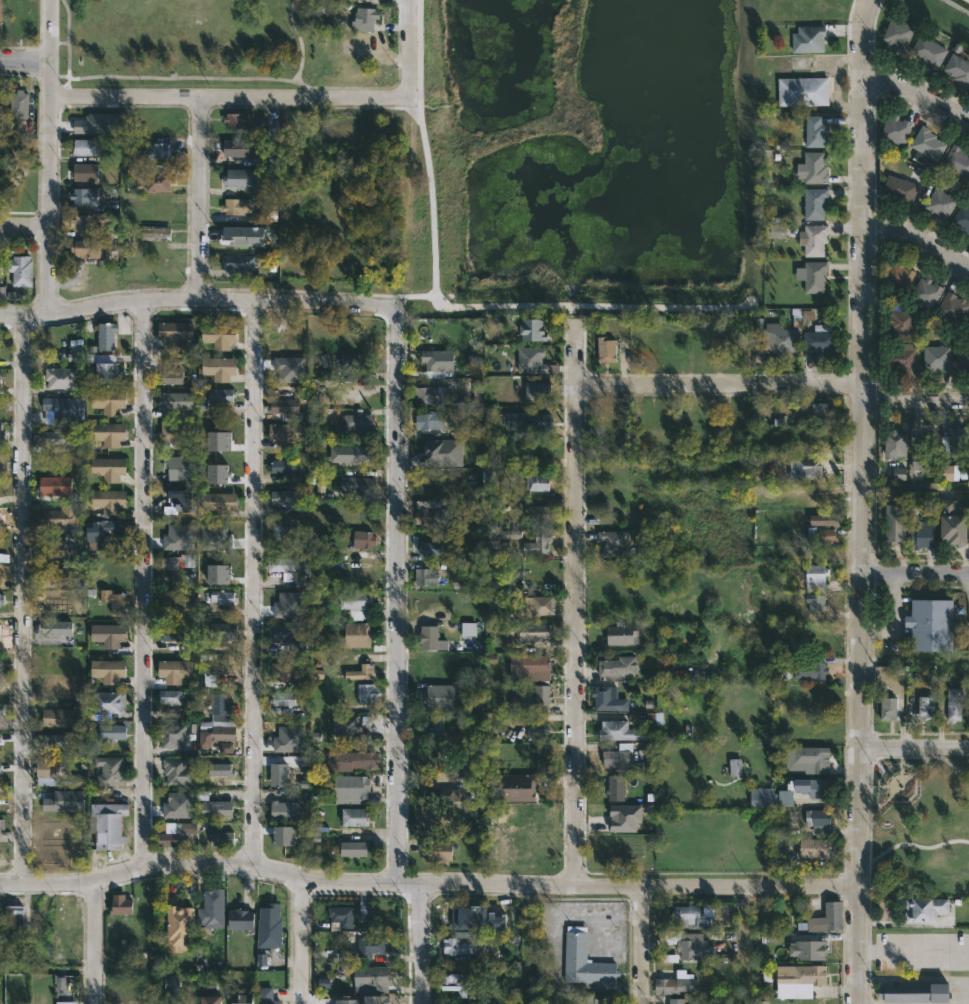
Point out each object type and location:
building: (0, 16)
building: (17, 18)
building: (365, 18)
building: (899, 33)
building: (809, 38)
park: (187, 45)
road: (409, 48)
building: (930, 51)
road: (26, 60)
building: (959, 69)
building: (803, 91)
road: (230, 96)
road: (919, 97)
building: (19, 104)
building: (1, 110)
building: (89, 122)
building: (245, 124)
building: (897, 129)
building: (816, 131)
building: (927, 145)
building: (87, 147)
building: (241, 148)
building: (159, 151)
road: (50, 156)
building: (958, 160)
building: (813, 168)
building: (85, 172)
building: (243, 180)
building: (158, 181)
building: (901, 190)
road: (197, 197)
building: (83, 198)
building: (815, 203)
building: (940, 203)
building: (236, 206)
building: (962, 218)
building: (81, 223)
road: (24, 225)
building: (775, 230)
building: (156, 233)
building: (968, 234)
building: (244, 236)
building: (815, 239)
road: (916, 243)
building: (87, 248)
building: (238, 262)
building: (20, 270)
building: (815, 276)
building: (898, 276)
building: (927, 292)
building: (2, 294)
road: (198, 298)
building: (953, 307)
building: (807, 314)
building: (903, 320)
building: (968, 328)
building: (533, 330)
building: (175, 332)
building: (105, 335)
building: (778, 335)
building: (219, 336)
building: (819, 340)
building: (607, 351)
building: (742, 354)
building: (938, 358)
building: (901, 359)
building: (531, 360)
building: (963, 360)
building: (435, 362)
building: (354, 366)
building: (218, 368)
building: (106, 372)
building: (60, 378)
building: (170, 378)
road: (721, 385)
building: (477, 387)
building: (538, 391)
building: (221, 395)
building: (429, 397)
road: (917, 400)
building: (108, 401)
building: (175, 403)
building: (282, 406)
building: (61, 412)
building: (820, 412)
building: (613, 416)
building: (431, 420)
building: (359, 421)
building: (525, 421)
building: (221, 431)
building: (108, 434)
building: (287, 434)
building: (172, 435)
building: (56, 439)
building: (0, 444)
building: (897, 447)
building: (442, 451)
building: (953, 452)
building: (353, 453)
building: (475, 454)
building: (925, 454)
building: (180, 468)
building: (280, 468)
building: (108, 469)
building: (807, 469)
building: (898, 473)
building: (488, 478)
building: (538, 484)
building: (55, 489)
building: (357, 489)
building: (281, 497)
building: (823, 498)
building: (108, 501)
road: (864, 501)
building: (218, 502)
building: (318, 507)
building: (359, 513)
building: (537, 514)
building: (59, 516)
building: (435, 516)
building: (822, 519)
building: (955, 523)
building: (896, 524)
building: (104, 532)
building: (278, 532)
building: (825, 535)
building: (923, 535)
building: (208, 539)
building: (363, 540)
building: (53, 543)
building: (539, 543)
building: (614, 543)
building: (430, 549)
building: (177, 561)
building: (290, 569)
building: (816, 573)
road: (916, 575)
building: (61, 576)
building: (217, 576)
building: (425, 577)
road: (144, 583)
road: (255, 584)
road: (400, 594)
building: (220, 597)
building: (1, 598)
road: (25, 599)
building: (115, 600)
building: (170, 601)
building: (53, 602)
road: (576, 603)
building: (355, 604)
building: (817, 604)
building: (288, 605)
building: (540, 606)
building: (932, 625)
building: (56, 627)
building: (468, 629)
building: (534, 631)
building: (223, 632)
building: (622, 633)
building: (108, 634)
building: (289, 635)
building: (358, 635)
building: (172, 636)
building: (431, 639)
building: (533, 663)
building: (618, 665)
building: (216, 666)
building: (108, 669)
building: (805, 669)
building: (175, 670)
building: (282, 671)
building: (362, 673)
building: (367, 693)
building: (440, 695)
building: (816, 695)
building: (171, 696)
building: (605, 697)
building: (282, 698)
building: (534, 698)
building: (109, 701)
building: (955, 704)
building: (889, 707)
building: (927, 707)
building: (0, 708)
building: (0, 712)
building: (61, 716)
building: (217, 718)
building: (654, 718)
building: (432, 725)
building: (348, 728)
building: (620, 730)
building: (112, 731)
building: (536, 731)
building: (172, 735)
building: (288, 739)
building: (51, 740)
building: (224, 747)
road: (916, 748)
building: (616, 757)
building: (649, 758)
building: (806, 758)
building: (351, 759)
building: (735, 767)
building: (220, 769)
building: (110, 770)
building: (48, 771)
building: (279, 773)
road: (869, 773)
building: (171, 774)
building: (80, 780)
building: (352, 786)
building: (814, 786)
building: (616, 787)
building: (516, 788)
building: (443, 794)
building: (48, 796)
building: (772, 797)
building: (65, 801)
building: (178, 804)
building: (217, 809)
building: (285, 810)
building: (355, 816)
building: (625, 817)
building: (818, 819)
building: (48, 821)
building: (107, 825)
park: (920, 825)
building: (0, 826)
building: (178, 835)
building: (285, 835)
building: (222, 838)
building: (539, 838)
road: (916, 843)
building: (806, 845)
building: (355, 847)
building: (438, 850)
building: (613, 858)
building: (44, 862)
road: (429, 884)
building: (121, 903)
building: (925, 908)
building: (211, 909)
building: (341, 915)
building: (61, 916)
building: (688, 916)
building: (241, 918)
building: (826, 918)
building: (11, 919)
building: (268, 920)
building: (489, 920)
building: (181, 927)
road: (300, 941)
road: (92, 942)
road: (423, 943)
building: (689, 944)
road: (642, 945)
building: (461, 946)
building: (370, 947)
building: (808, 949)
building: (67, 950)
road: (552, 950)
road: (915, 951)
building: (262, 959)
building: (585, 960)
building: (376, 975)
building: (461, 979)
road: (925, 980)
building: (801, 981)
building: (676, 985)
building: (914, 992)
building: (266, 996)
building: (172, 997)
building: (242, 998)
building: (211, 999)
building: (597, 999)
building: (677, 1001)

